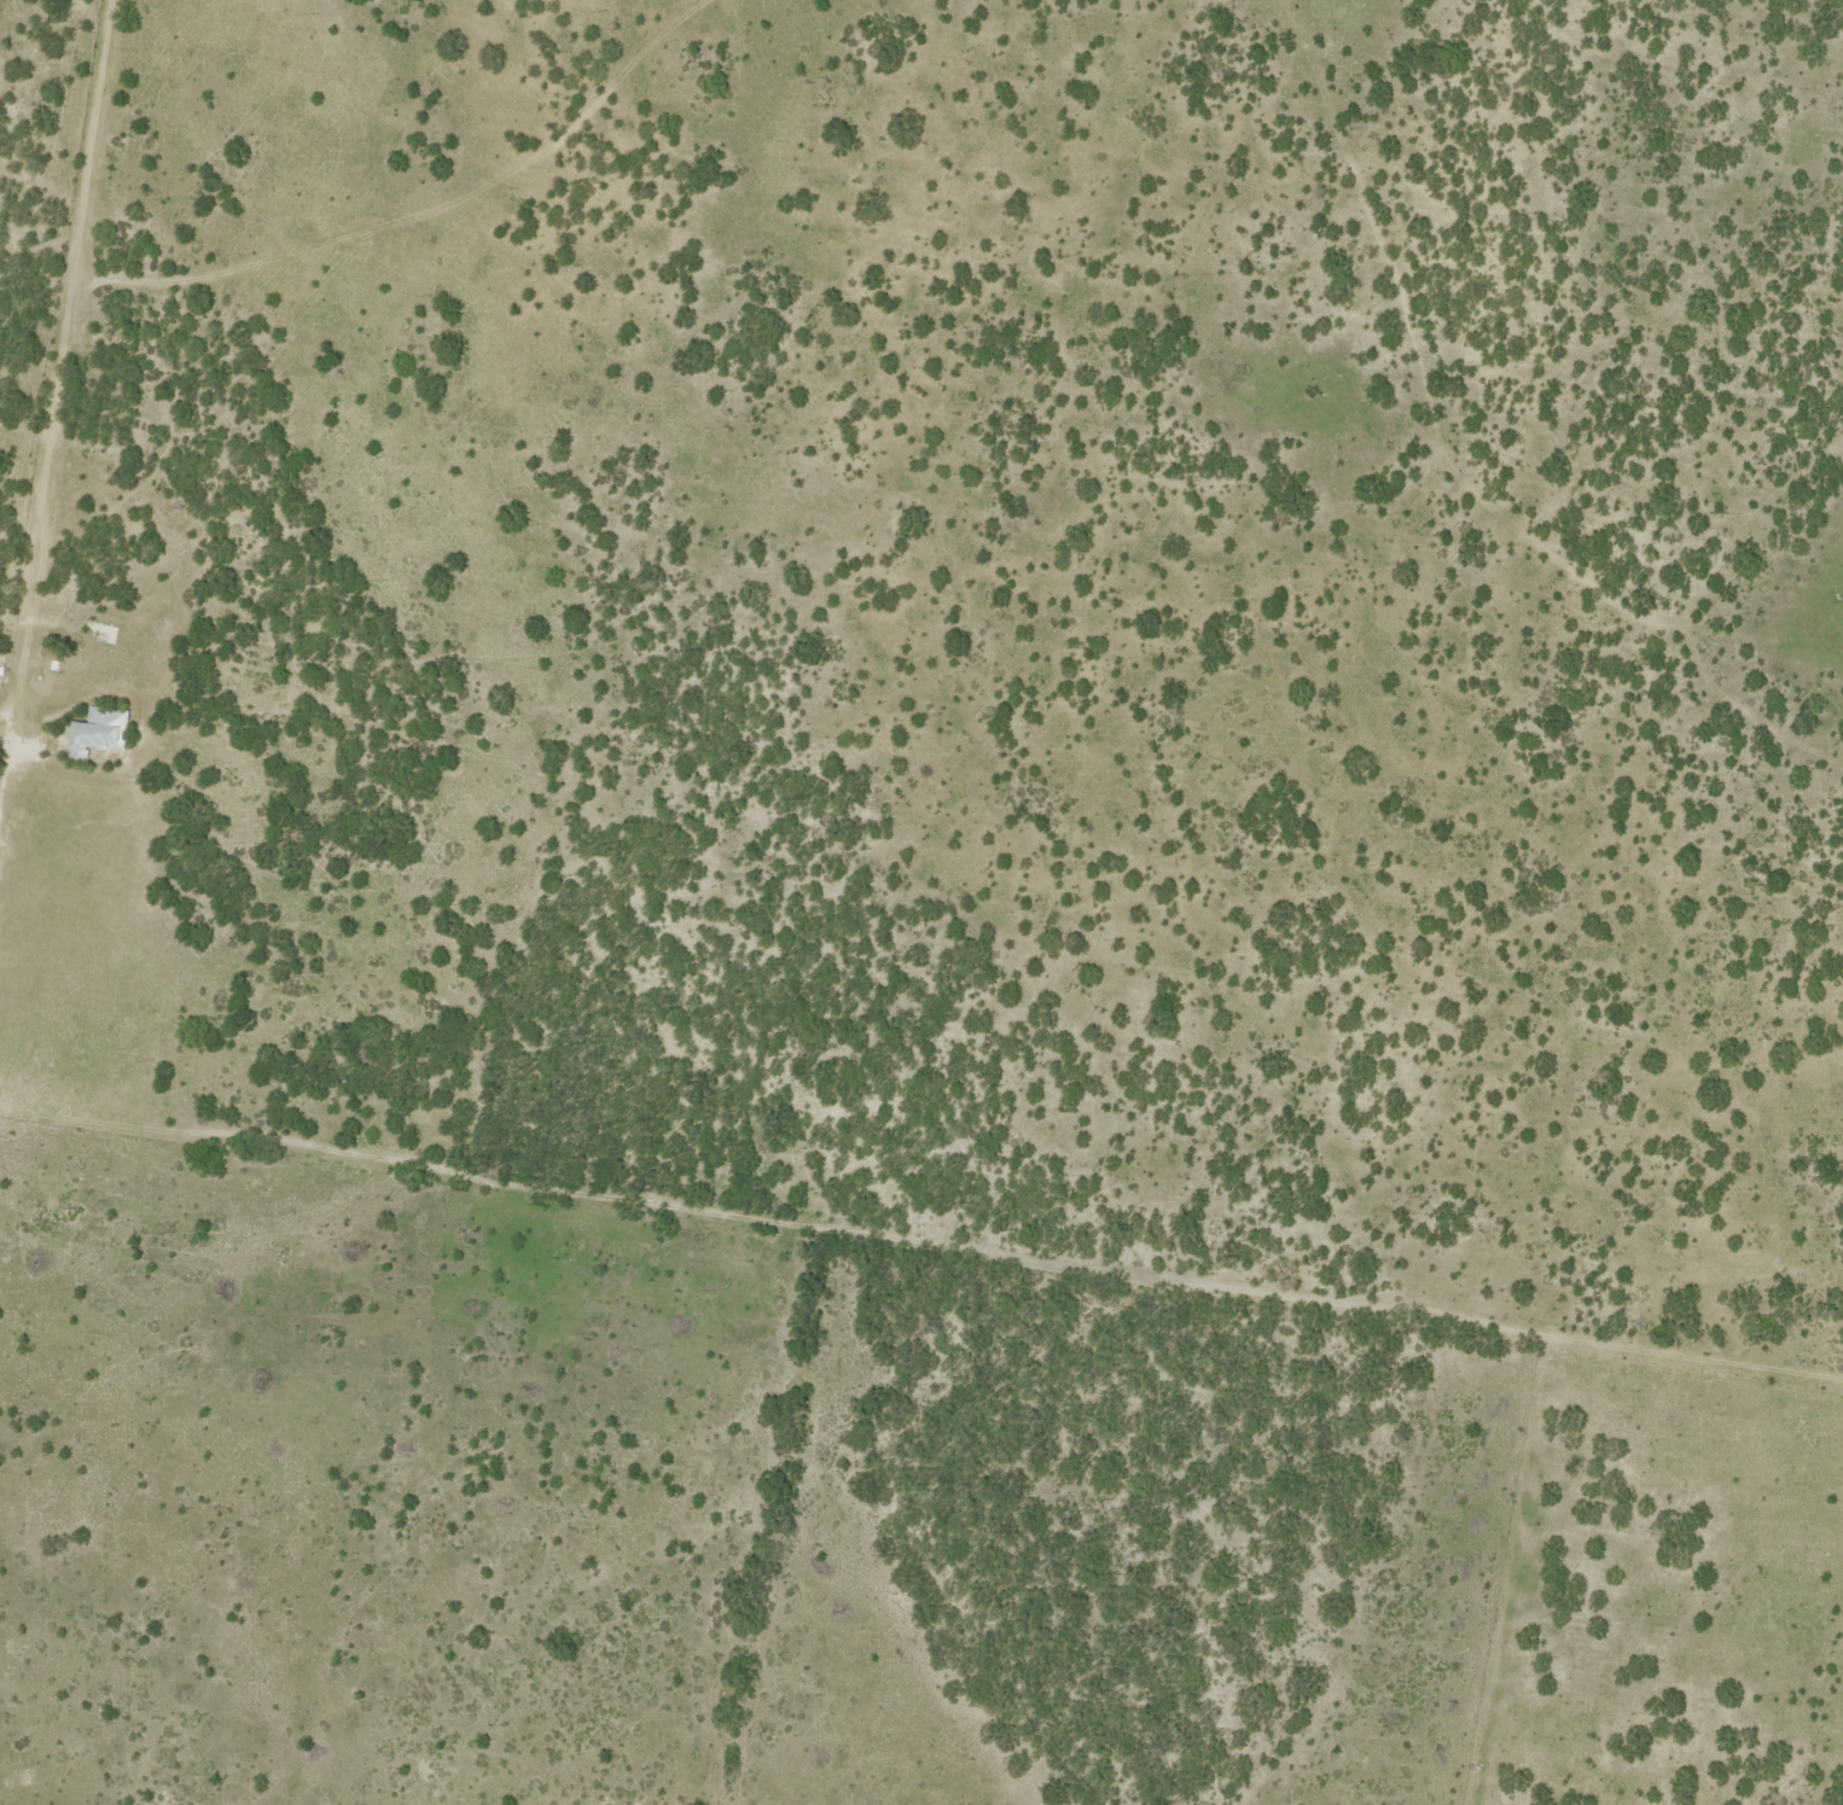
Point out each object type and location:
building: (105, 631)
building: (101, 732)

